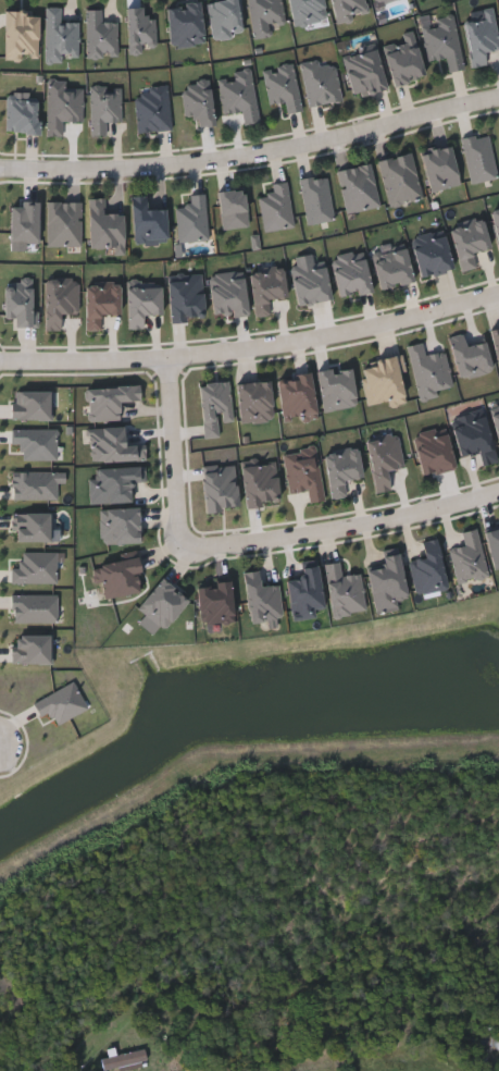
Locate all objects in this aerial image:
building: (265, 13)
building: (139, 29)
building: (100, 35)
building: (481, 35)
building: (442, 40)
building: (320, 82)
building: (282, 85)
building: (238, 94)
building: (198, 100)
building: (62, 104)
building: (103, 108)
building: (152, 108)
building: (22, 114)
road: (252, 151)
building: (439, 167)
building: (399, 177)
building: (358, 186)
building: (147, 220)
building: (63, 222)
building: (104, 224)
road: (251, 344)
road: (172, 451)
road: (347, 525)
building: (412, 1052)
building: (124, 1058)

